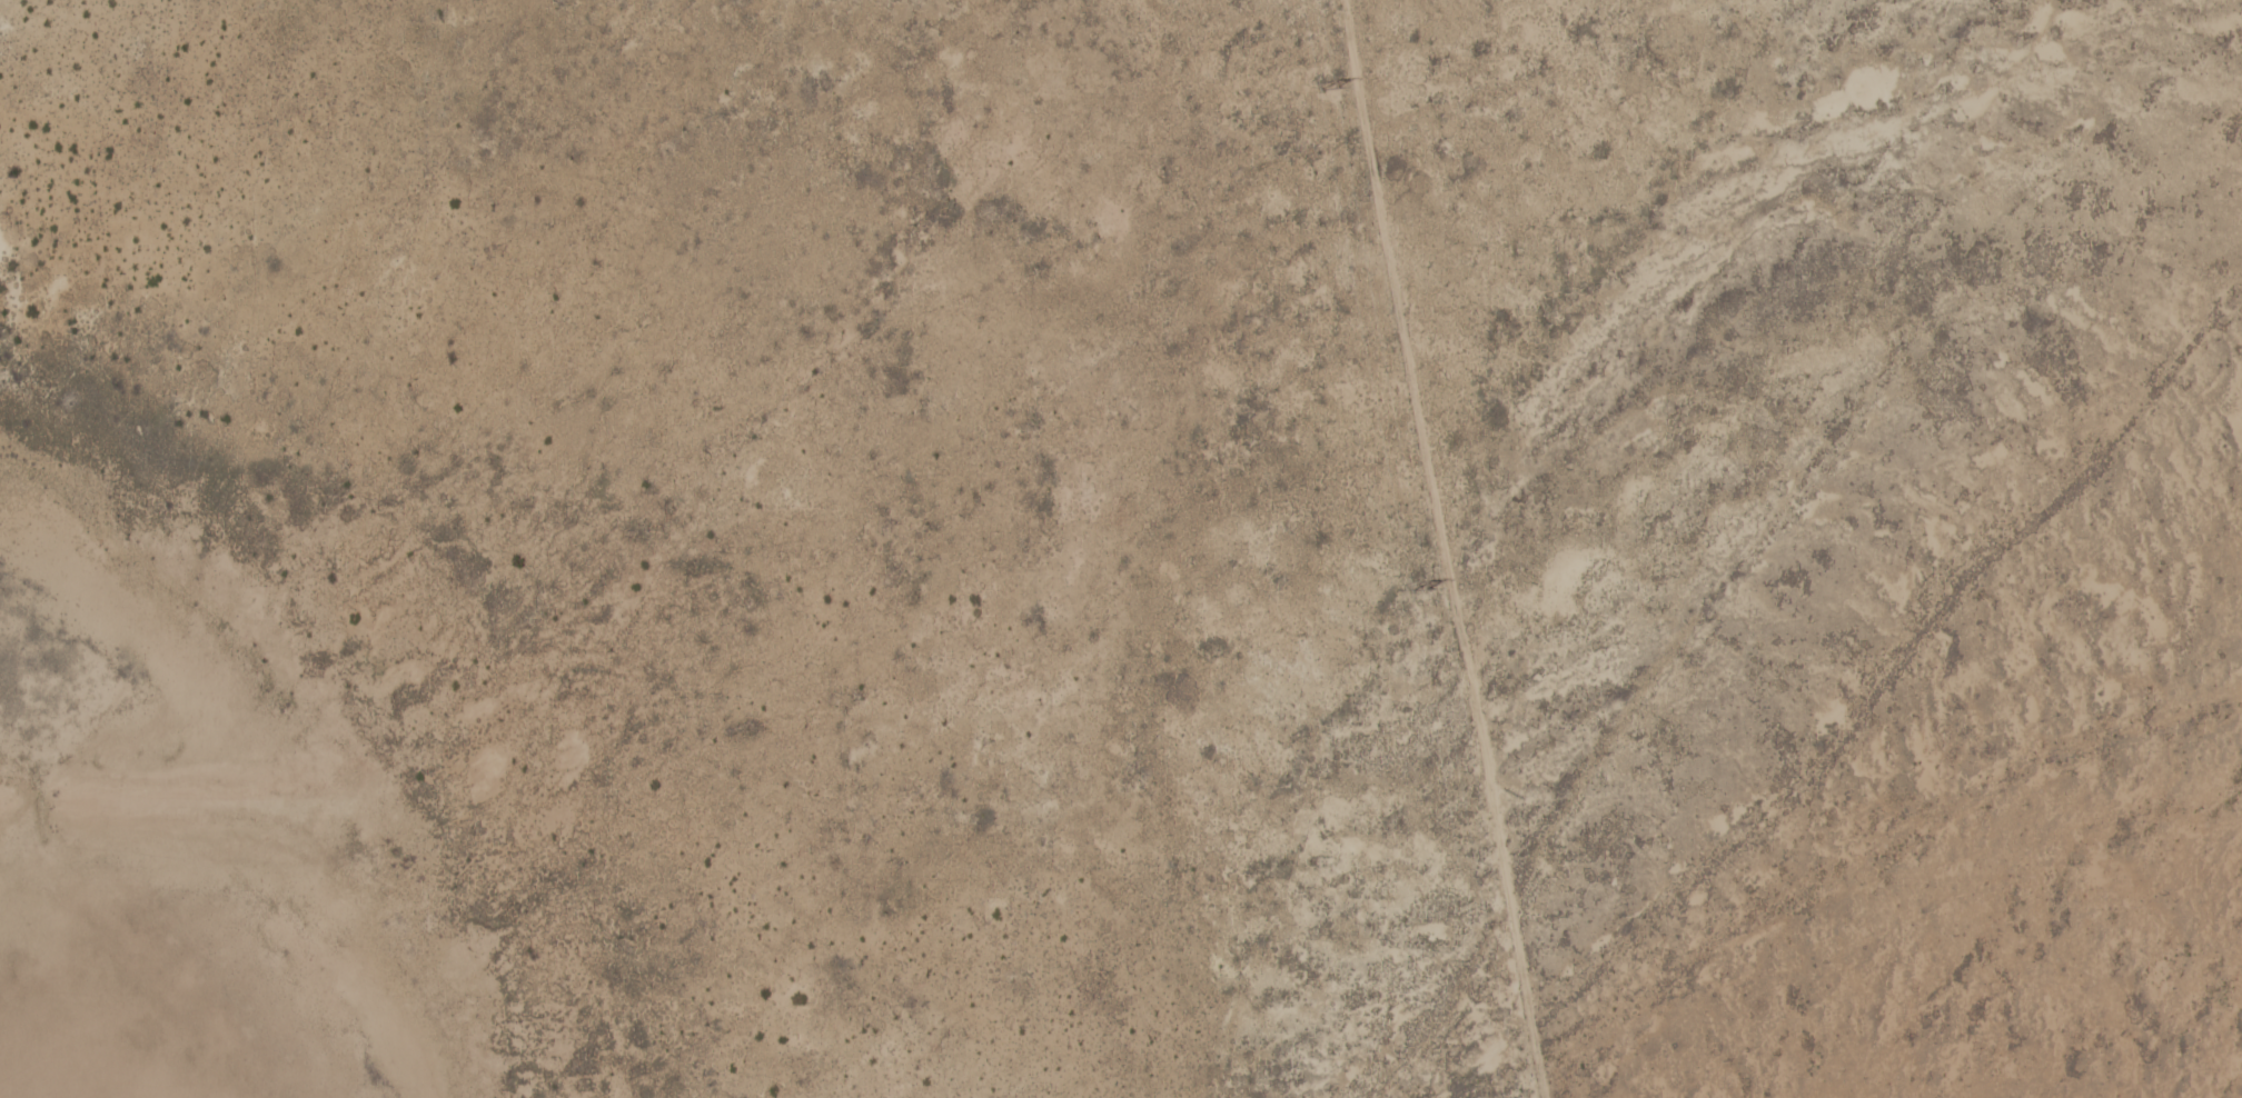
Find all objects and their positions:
power tower: (1331, 88)
road: (1520, 549)
power tower: (1422, 589)

